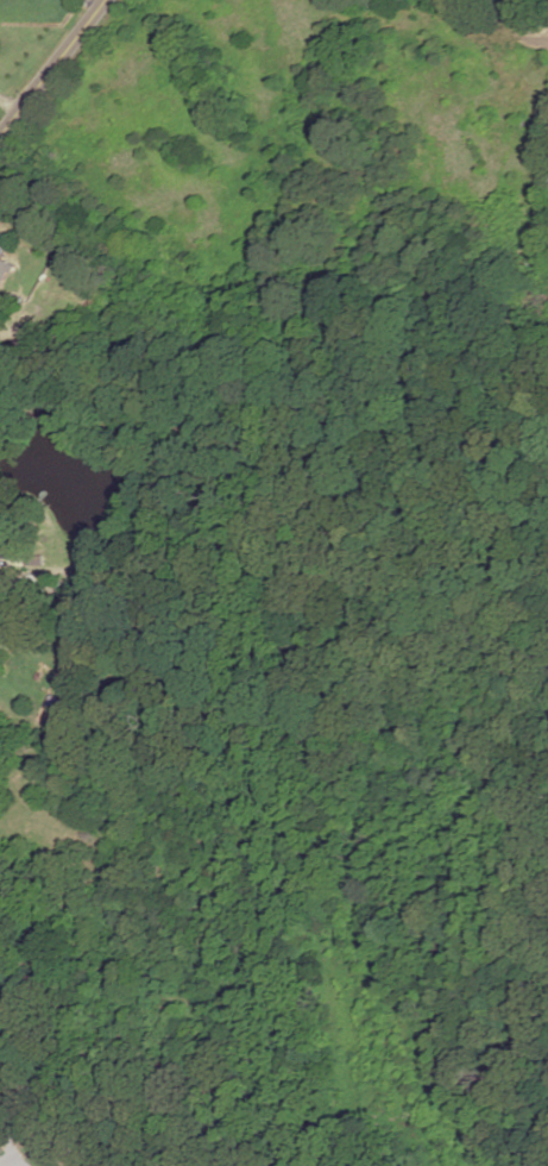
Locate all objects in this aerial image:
road: (504, 23)
road: (53, 70)
building: (4, 267)
building: (4, 538)

